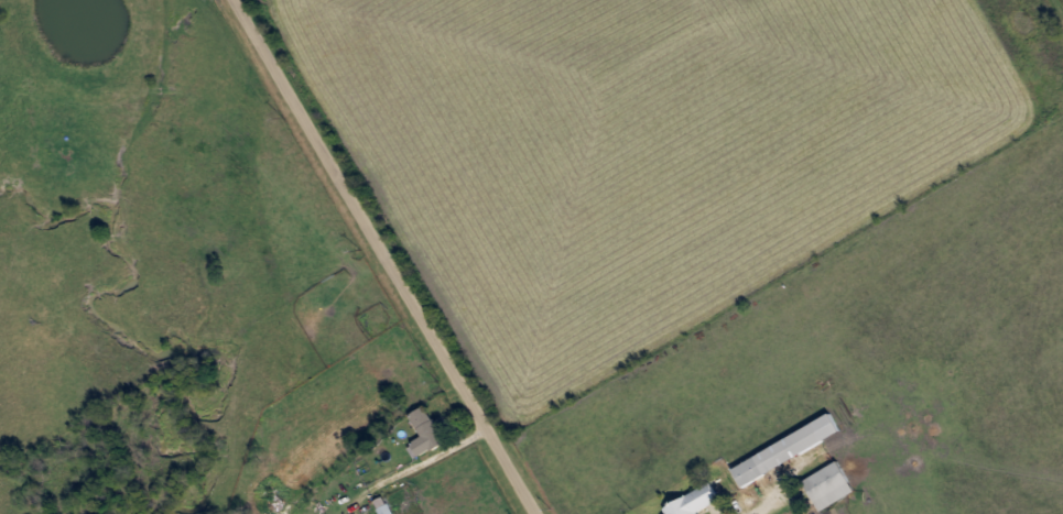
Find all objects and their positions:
road: (391, 256)
building: (433, 428)
building: (791, 450)
road: (432, 456)
building: (833, 485)
building: (697, 502)
building: (390, 510)

